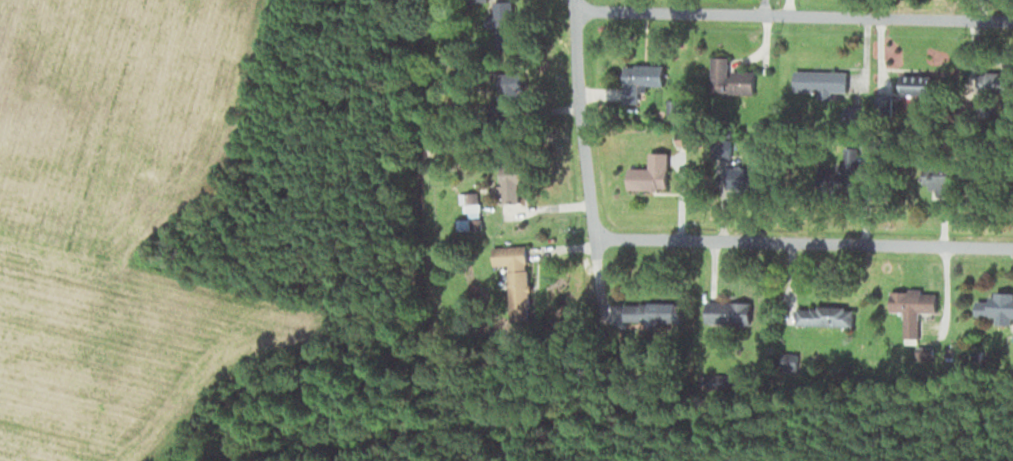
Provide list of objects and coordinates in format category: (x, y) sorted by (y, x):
road: (793, 15)
building: (502, 22)
building: (640, 80)
building: (995, 82)
building: (730, 83)
building: (913, 84)
building: (819, 85)
building: (720, 147)
road: (585, 161)
building: (646, 169)
building: (941, 185)
building: (509, 186)
road: (802, 244)
building: (516, 284)
building: (995, 308)
building: (911, 309)
building: (653, 312)
building: (727, 312)
building: (823, 315)

